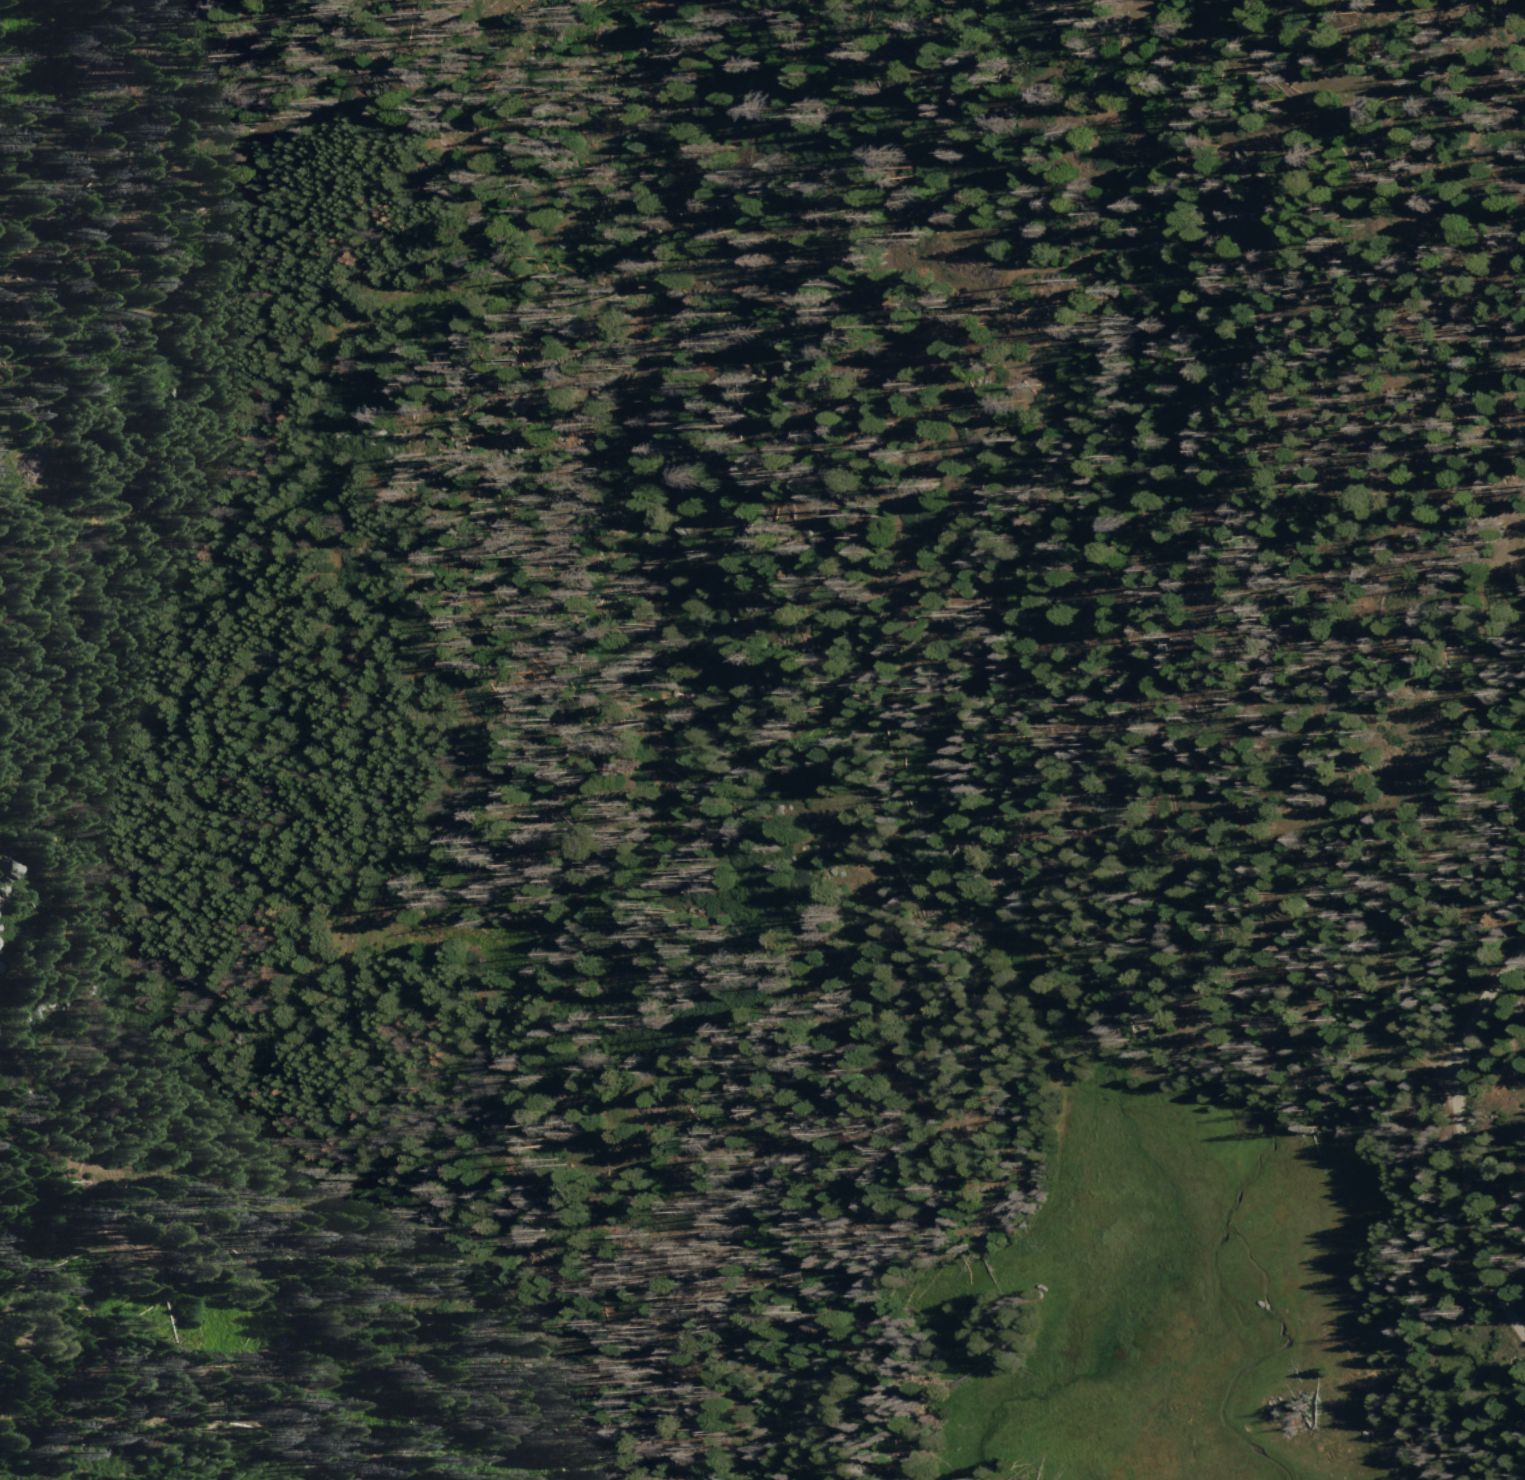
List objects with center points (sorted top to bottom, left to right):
road: (1152, 518)
road: (1478, 1002)
road: (1469, 1203)

